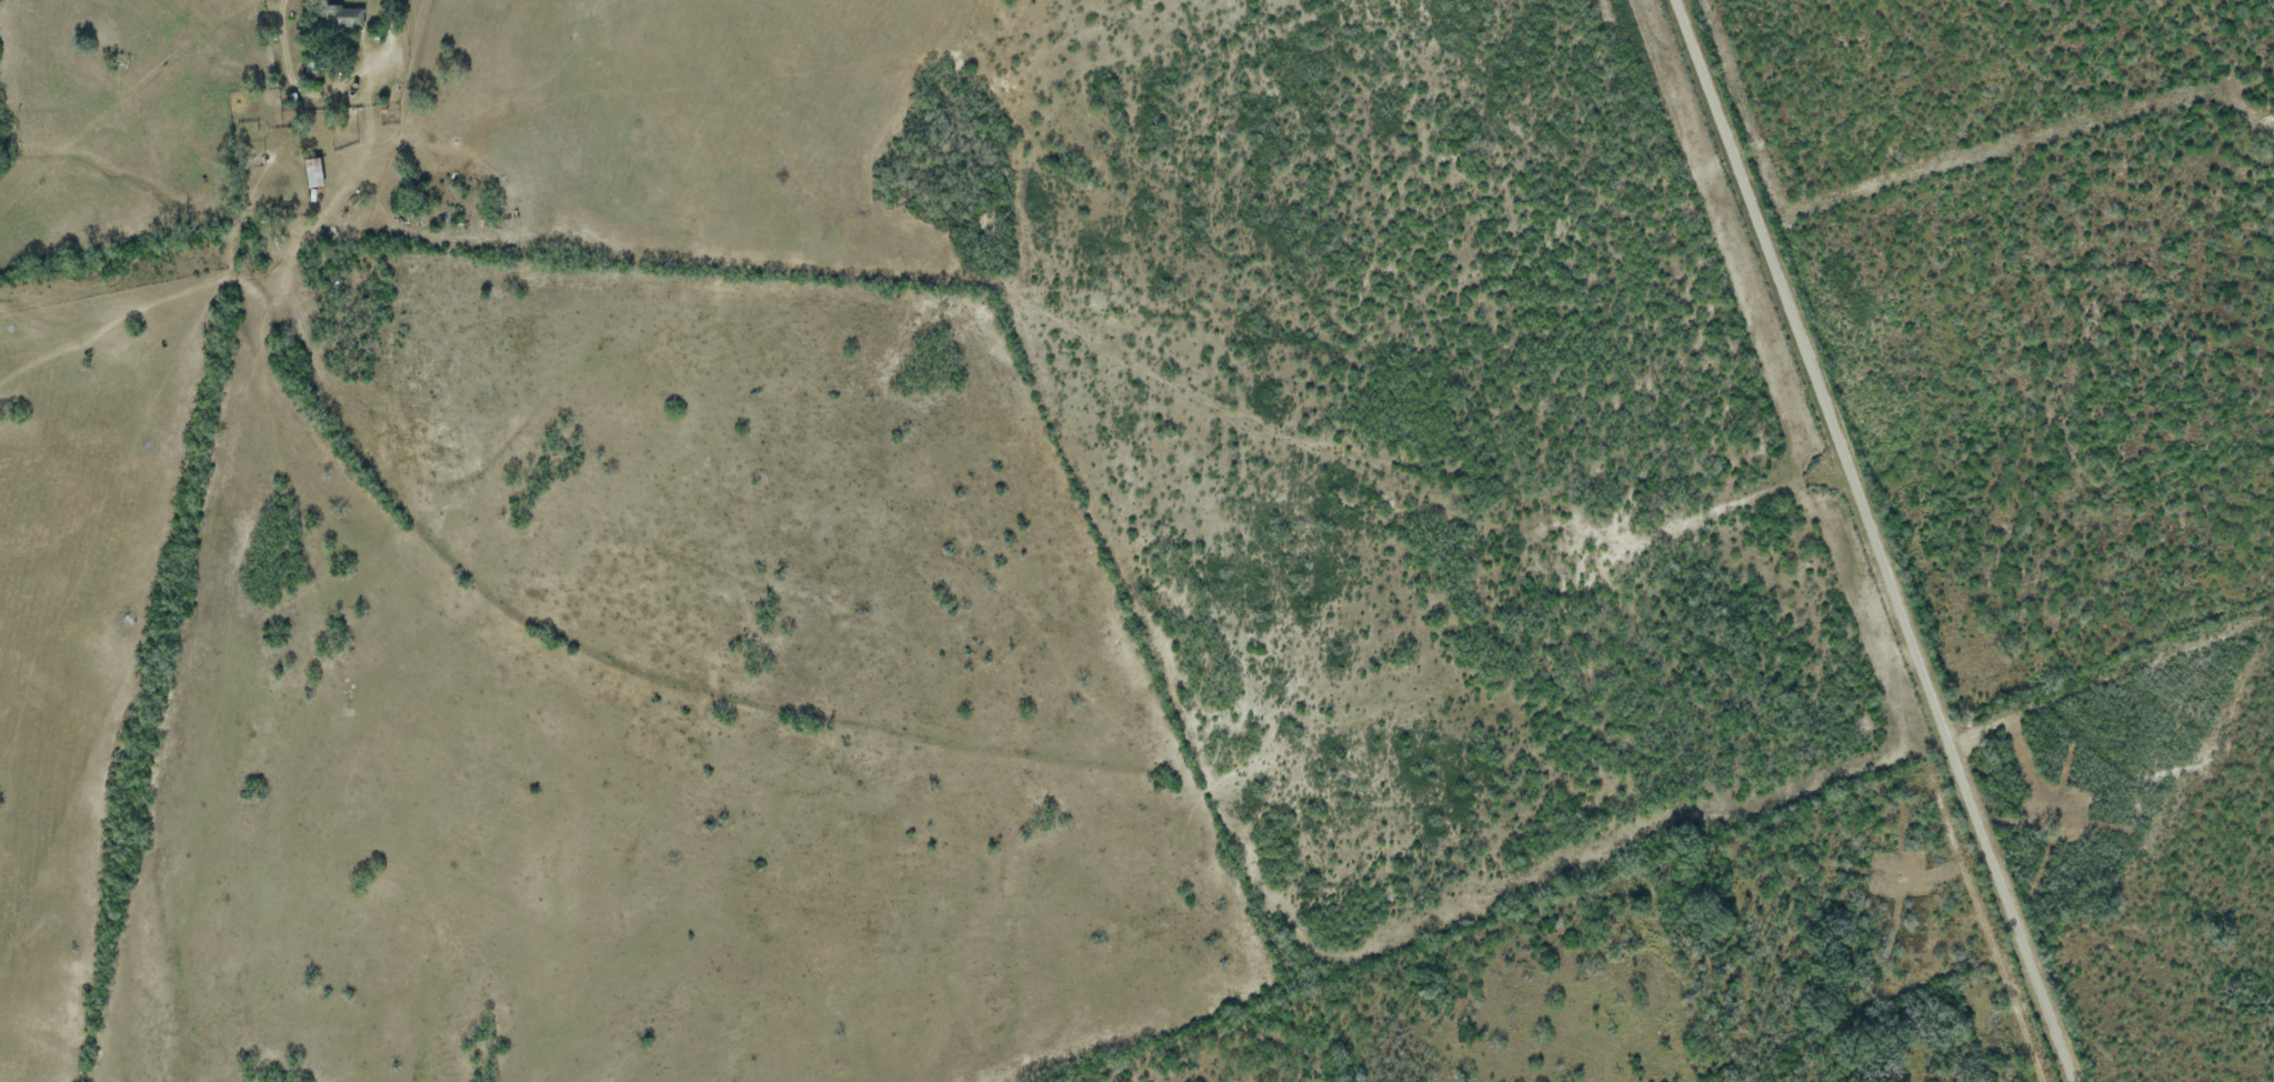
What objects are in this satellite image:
building: (341, 17)
building: (309, 172)
road: (1874, 541)

